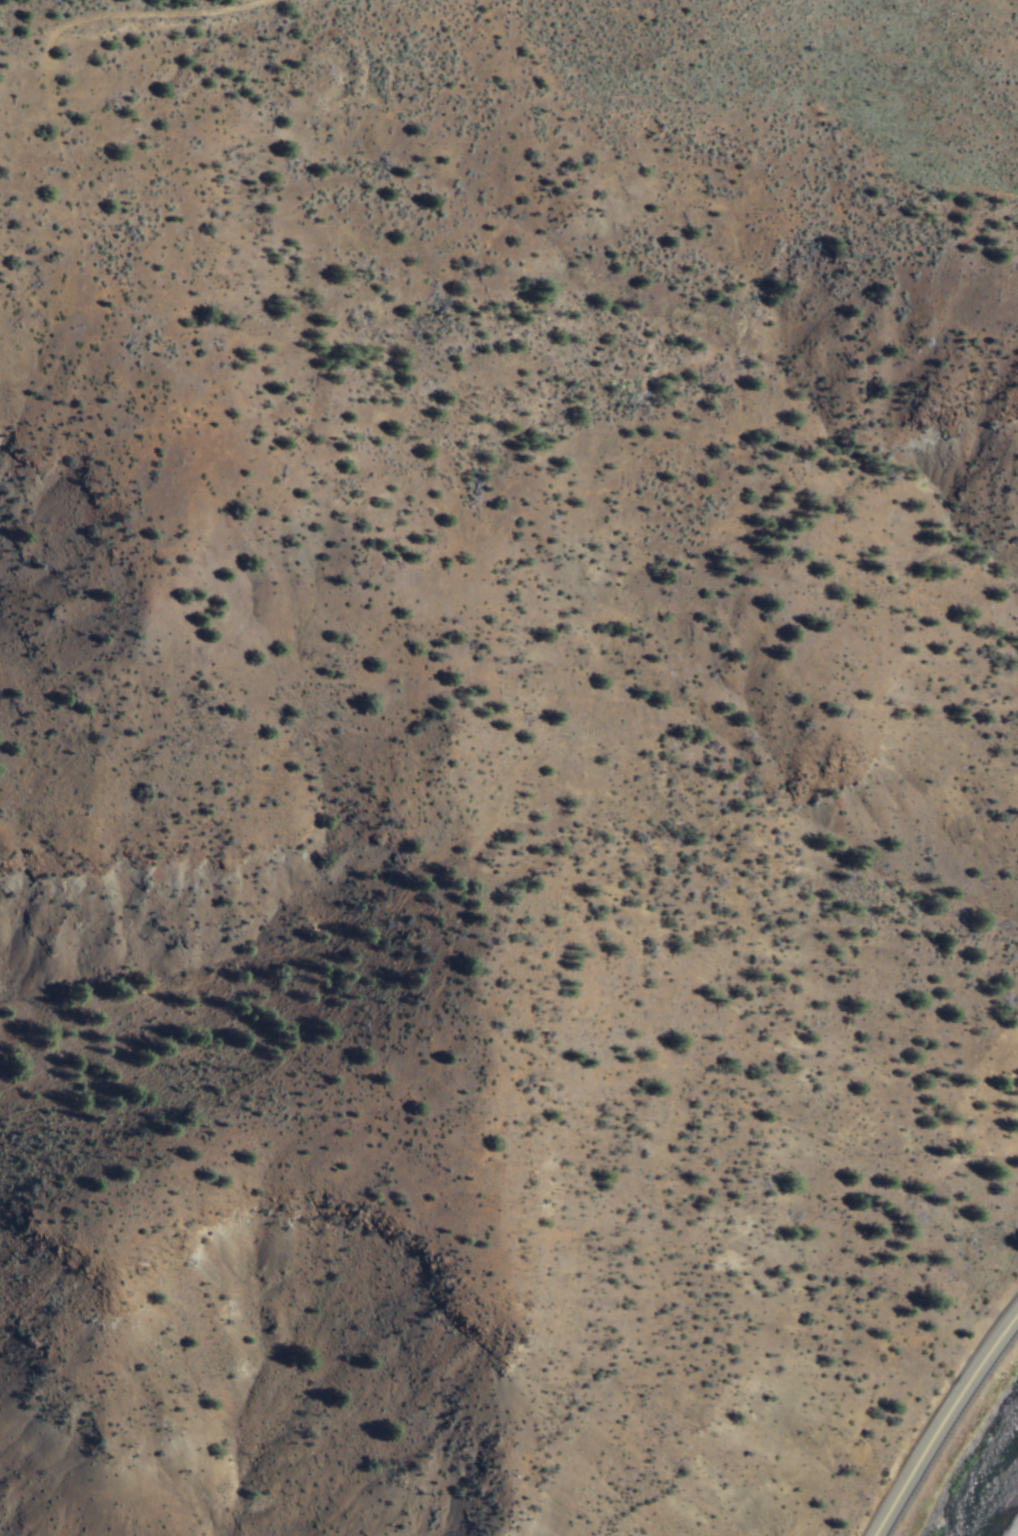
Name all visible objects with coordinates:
road: (948, 1433)
river: (993, 1520)

